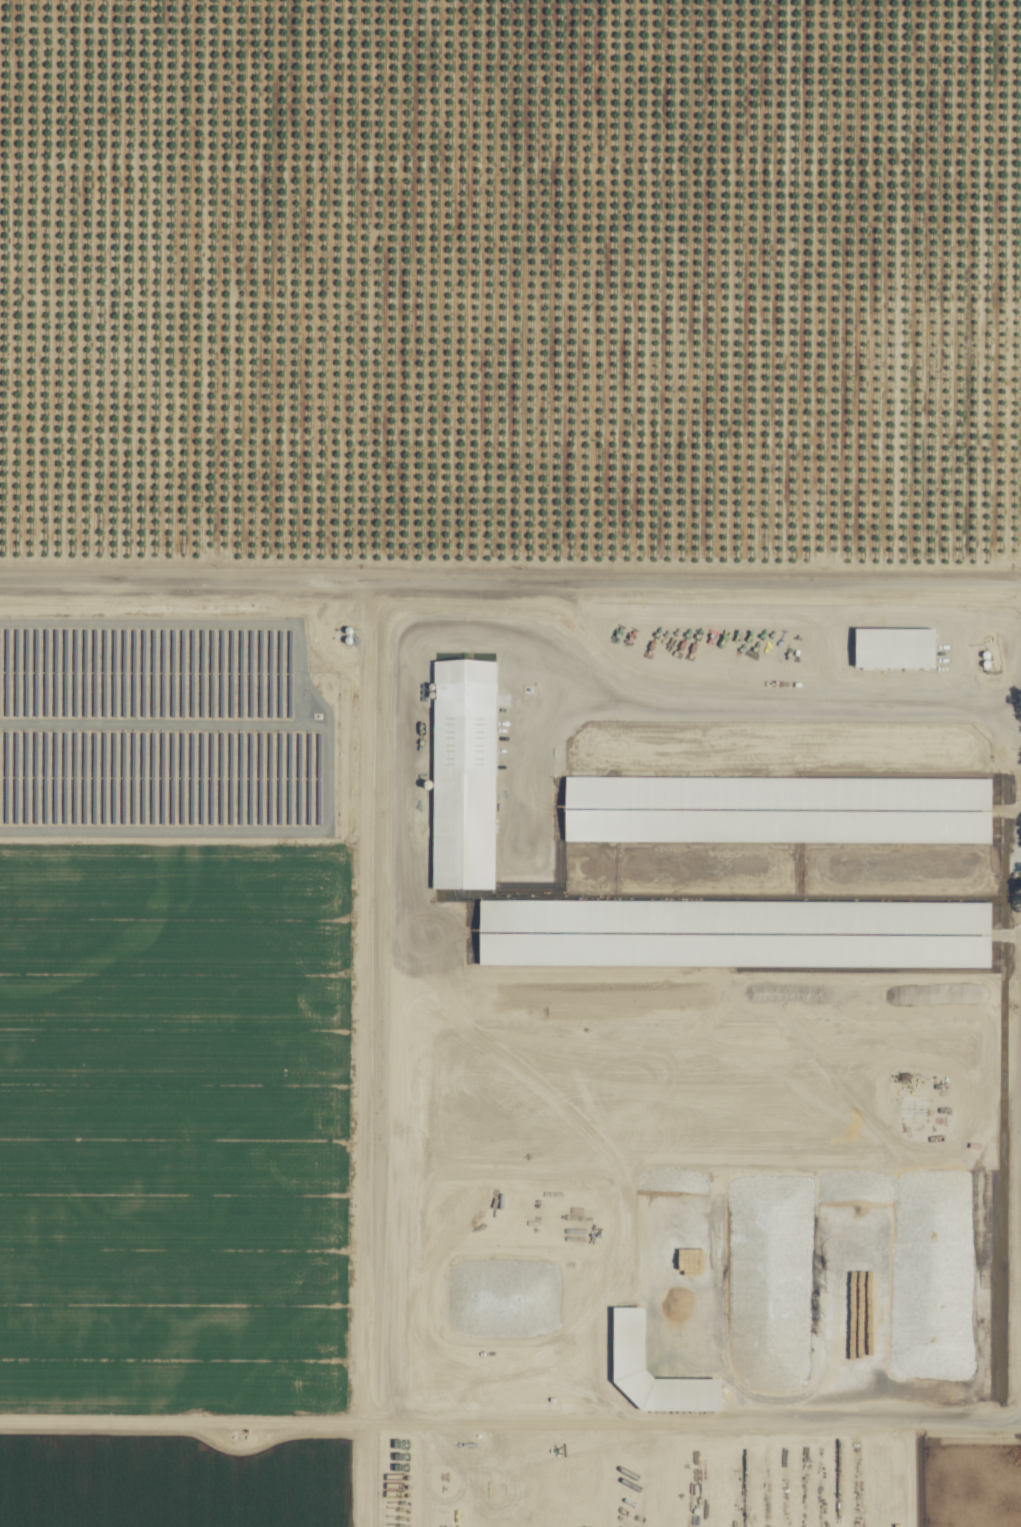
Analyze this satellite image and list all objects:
road: (510, 575)
building: (896, 646)
building: (466, 719)
building: (974, 809)
building: (471, 858)
building: (981, 941)
building: (702, 1392)
road: (835, 1419)

